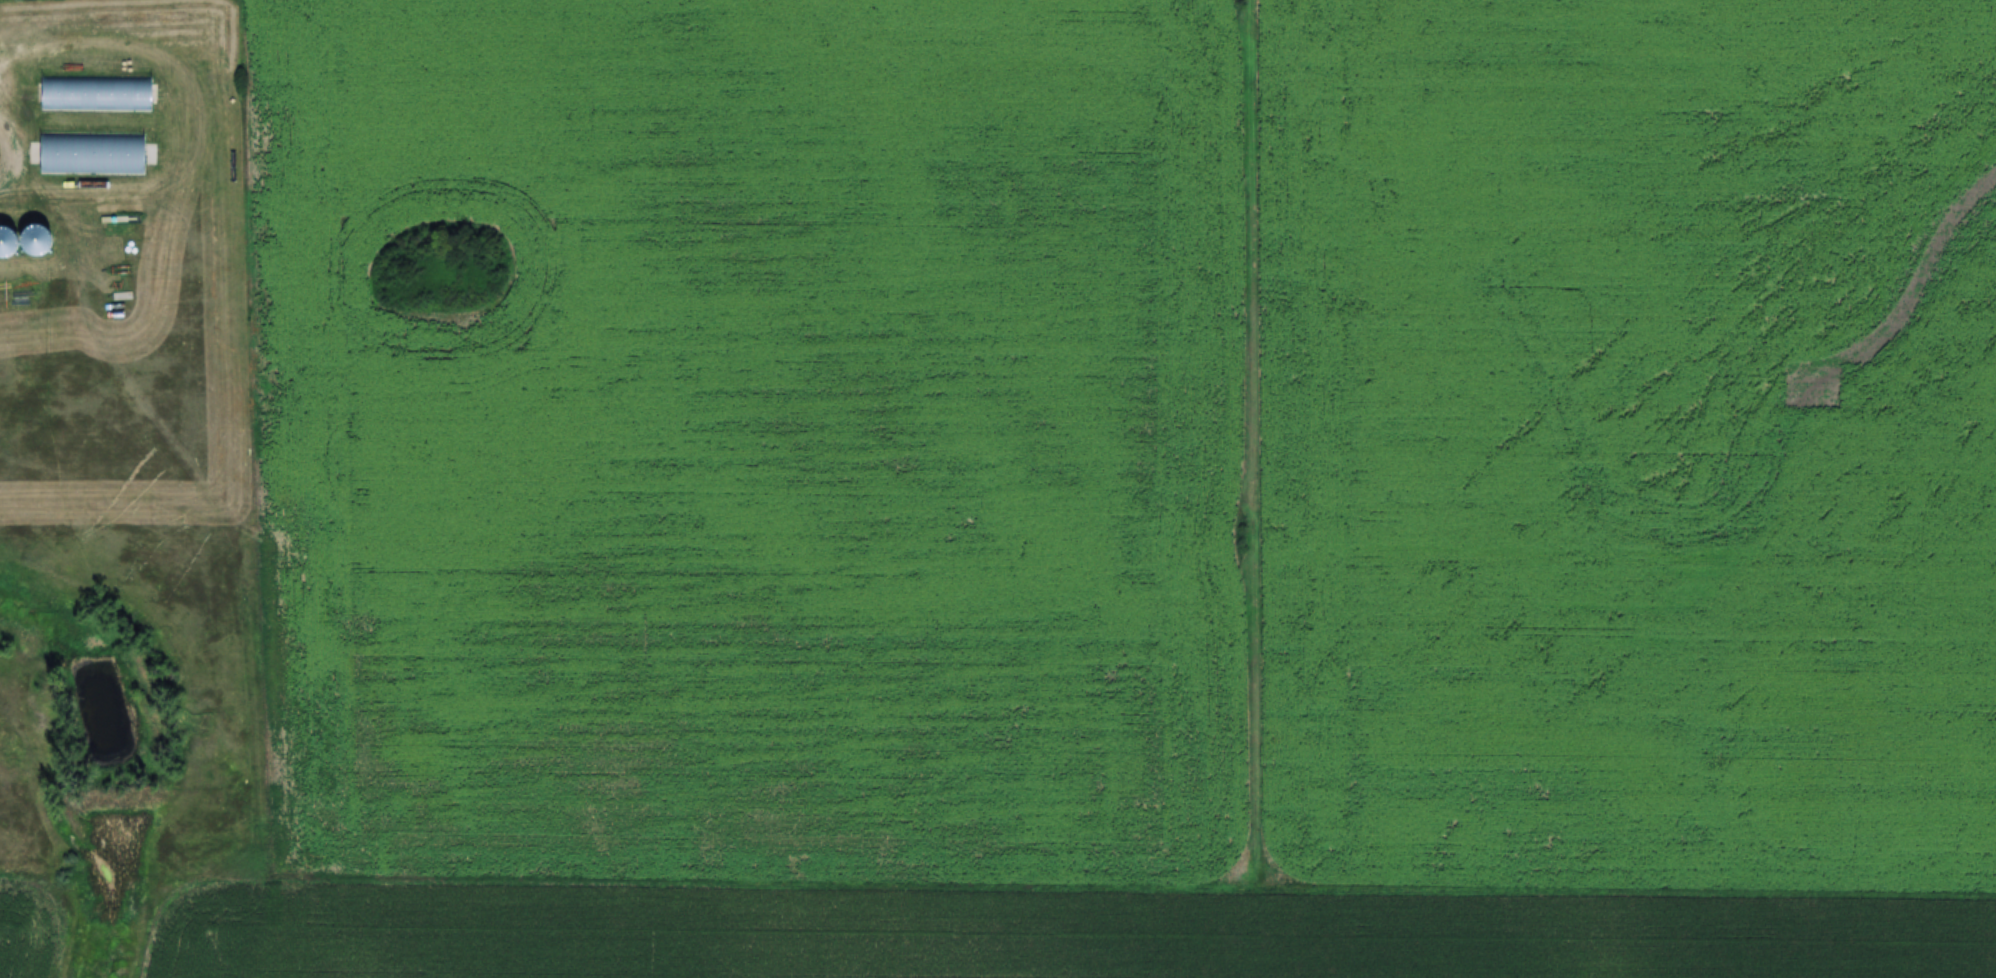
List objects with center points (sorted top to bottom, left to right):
building: (96, 94)
building: (93, 154)

